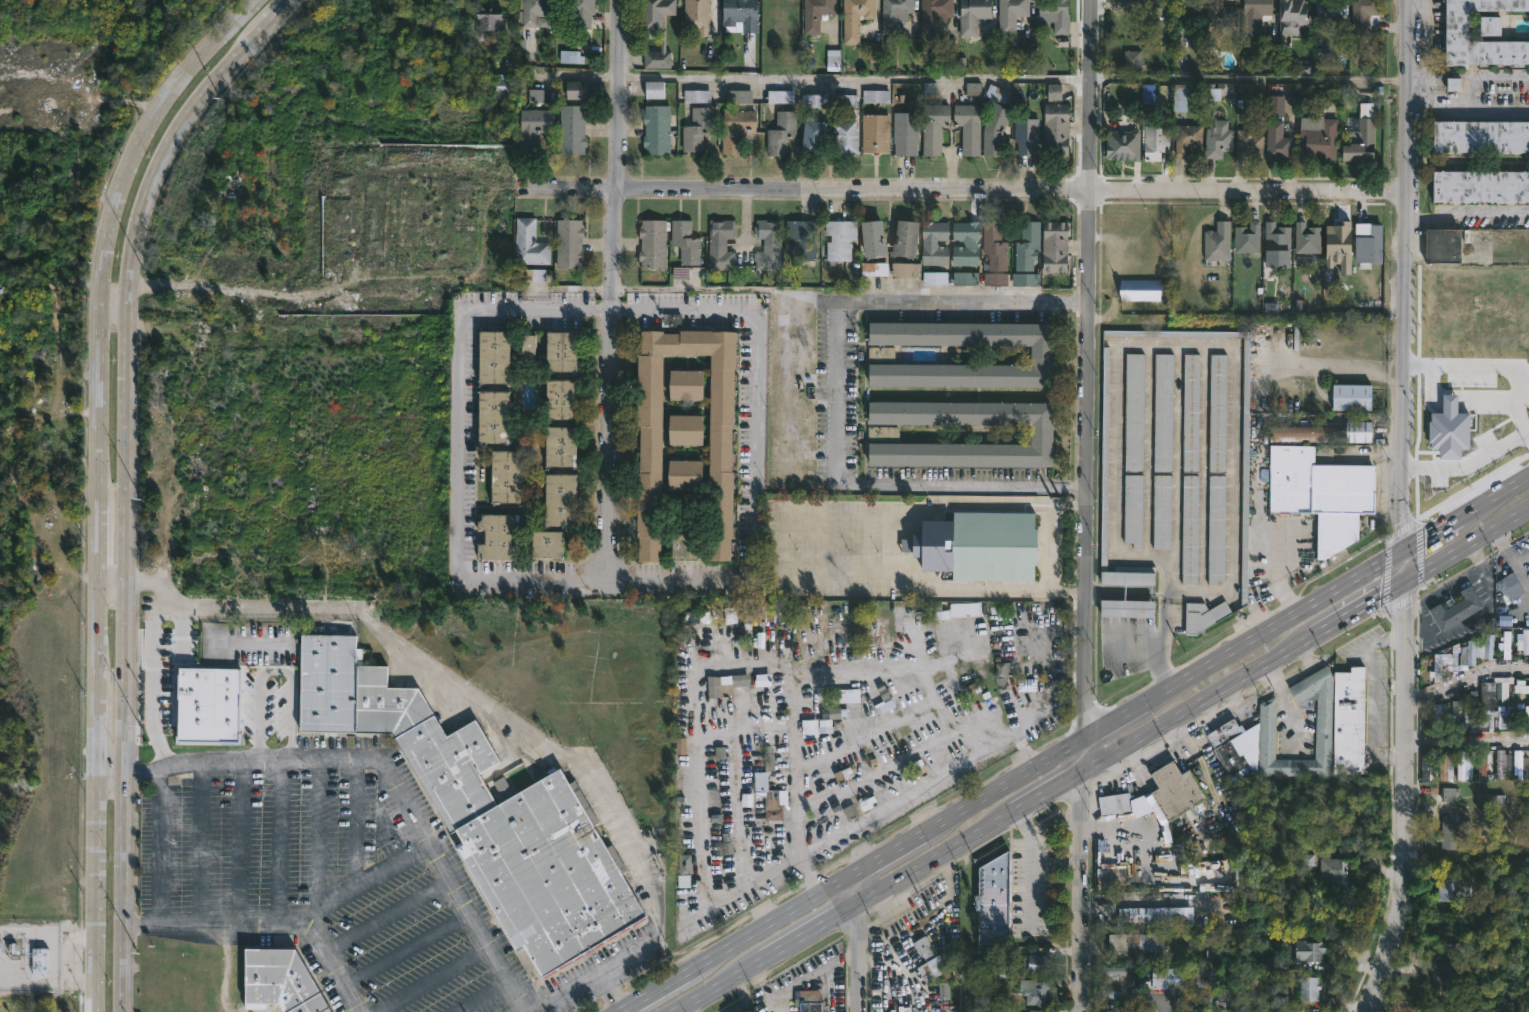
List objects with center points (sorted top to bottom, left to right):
building: (534, 10)
building: (1329, 10)
building: (580, 13)
building: (695, 13)
building: (893, 13)
building: (1055, 13)
building: (1222, 13)
building: (1254, 13)
building: (814, 14)
building: (971, 15)
building: (1009, 15)
building: (1188, 15)
building: (932, 16)
building: (1292, 16)
building: (853, 17)
building: (1364, 18)
building: (1158, 20)
building: (488, 21)
building: (1454, 25)
building: (1487, 25)
building: (657, 30)
building: (1131, 60)
road: (1492, 76)
road: (1036, 79)
building: (499, 85)
building: (575, 89)
building: (655, 91)
road: (1418, 94)
building: (1178, 97)
road: (1471, 109)
building: (932, 126)
building: (533, 127)
building: (967, 127)
building: (695, 128)
building: (734, 128)
building: (572, 129)
building: (657, 129)
building: (993, 129)
building: (1054, 129)
building: (875, 132)
building: (905, 132)
building: (779, 133)
building: (1027, 135)
building: (1480, 135)
building: (816, 136)
building: (849, 136)
building: (1359, 136)
building: (1186, 137)
building: (1317, 138)
building: (1154, 139)
building: (1217, 139)
building: (1276, 140)
building: (1121, 144)
building: (1247, 144)
building: (1480, 185)
road: (966, 187)
road: (1478, 212)
road: (1418, 219)
building: (1247, 237)
building: (1275, 237)
building: (802, 238)
building: (875, 238)
building: (1306, 238)
building: (841, 239)
building: (909, 239)
building: (685, 241)
building: (1216, 241)
building: (935, 242)
building: (965, 242)
building: (530, 243)
building: (569, 243)
building: (652, 243)
building: (767, 243)
building: (719, 244)
building: (1026, 245)
building: (1441, 245)
building: (993, 246)
building: (1053, 246)
building: (875, 268)
building: (906, 270)
road: (1407, 273)
building: (1024, 279)
road: (609, 287)
building: (1139, 290)
building: (187, 298)
road: (606, 308)
road: (114, 309)
building: (530, 349)
building: (564, 350)
building: (880, 353)
building: (1038, 354)
building: (494, 356)
road: (1489, 368)
road: (1086, 370)
building: (1469, 371)
building: (686, 384)
road: (833, 389)
building: (1350, 396)
building: (564, 400)
building: (1133, 412)
building: (1190, 412)
building: (1162, 413)
building: (1217, 413)
building: (494, 415)
building: (686, 430)
building: (882, 432)
building: (1321, 432)
building: (1038, 433)
building: (563, 447)
building: (719, 448)
building: (1103, 457)
road: (1469, 466)
building: (1243, 470)
building: (685, 475)
building: (504, 476)
road: (124, 481)
road: (100, 483)
building: (1320, 493)
road: (1494, 497)
building: (562, 500)
building: (1132, 510)
building: (1161, 512)
building: (1189, 529)
building: (1215, 529)
road: (1433, 533)
building: (503, 537)
building: (549, 545)
building: (685, 546)
building: (992, 546)
road: (1468, 549)
road: (1408, 566)
building: (1128, 575)
road: (111, 581)
building: (1510, 586)
road: (1367, 608)
building: (1125, 609)
building: (961, 610)
building: (1456, 610)
building: (750, 615)
building: (1203, 616)
road: (1279, 624)
building: (1525, 642)
building: (1489, 647)
building: (1472, 653)
road: (691, 674)
building: (746, 680)
road: (1466, 683)
building: (1522, 689)
road: (1046, 690)
building: (1487, 694)
building: (885, 698)
road: (1368, 698)
road: (1204, 704)
building: (834, 712)
road: (506, 718)
building: (1434, 718)
building: (1527, 718)
road: (1116, 720)
building: (1474, 720)
building: (1510, 720)
building: (1347, 722)
building: (1490, 722)
building: (1241, 733)
road: (865, 737)
road: (971, 739)
road: (1406, 739)
road: (1467, 742)
road: (1021, 749)
road: (1081, 758)
building: (1484, 763)
building: (1426, 764)
building: (1445, 765)
building: (1463, 765)
building: (1501, 765)
building: (1519, 765)
road: (874, 772)
road: (389, 773)
road: (109, 777)
road: (1004, 785)
building: (1174, 790)
building: (771, 795)
road: (1048, 796)
building: (1113, 804)
building: (486, 808)
road: (355, 821)
road: (317, 832)
building: (1448, 833)
road: (278, 841)
road: (240, 842)
road: (200, 843)
road: (161, 844)
road: (891, 850)
road: (935, 863)
building: (1338, 871)
road: (363, 879)
road: (855, 890)
building: (1451, 891)
road: (1081, 894)
building: (992, 900)
road: (387, 913)
building: (1147, 915)
road: (775, 919)
road: (1394, 920)
road: (265, 922)
road: (808, 936)
building: (1136, 942)
road: (408, 947)
building: (1307, 952)
road: (967, 955)
power substation: (30, 959)
road: (856, 960)
building: (1039, 963)
building: (40, 964)
building: (930, 968)
building: (999, 969)
building: (1166, 976)
building: (1451, 976)
road: (431, 978)
road: (1373, 979)
building: (281, 981)
building: (1207, 981)
road: (796, 985)
road: (720, 987)
building: (1309, 987)
road: (658, 990)
building: (1036, 991)
road: (483, 996)
building: (810, 1001)
road: (1144, 1001)
building: (1041, 1011)

